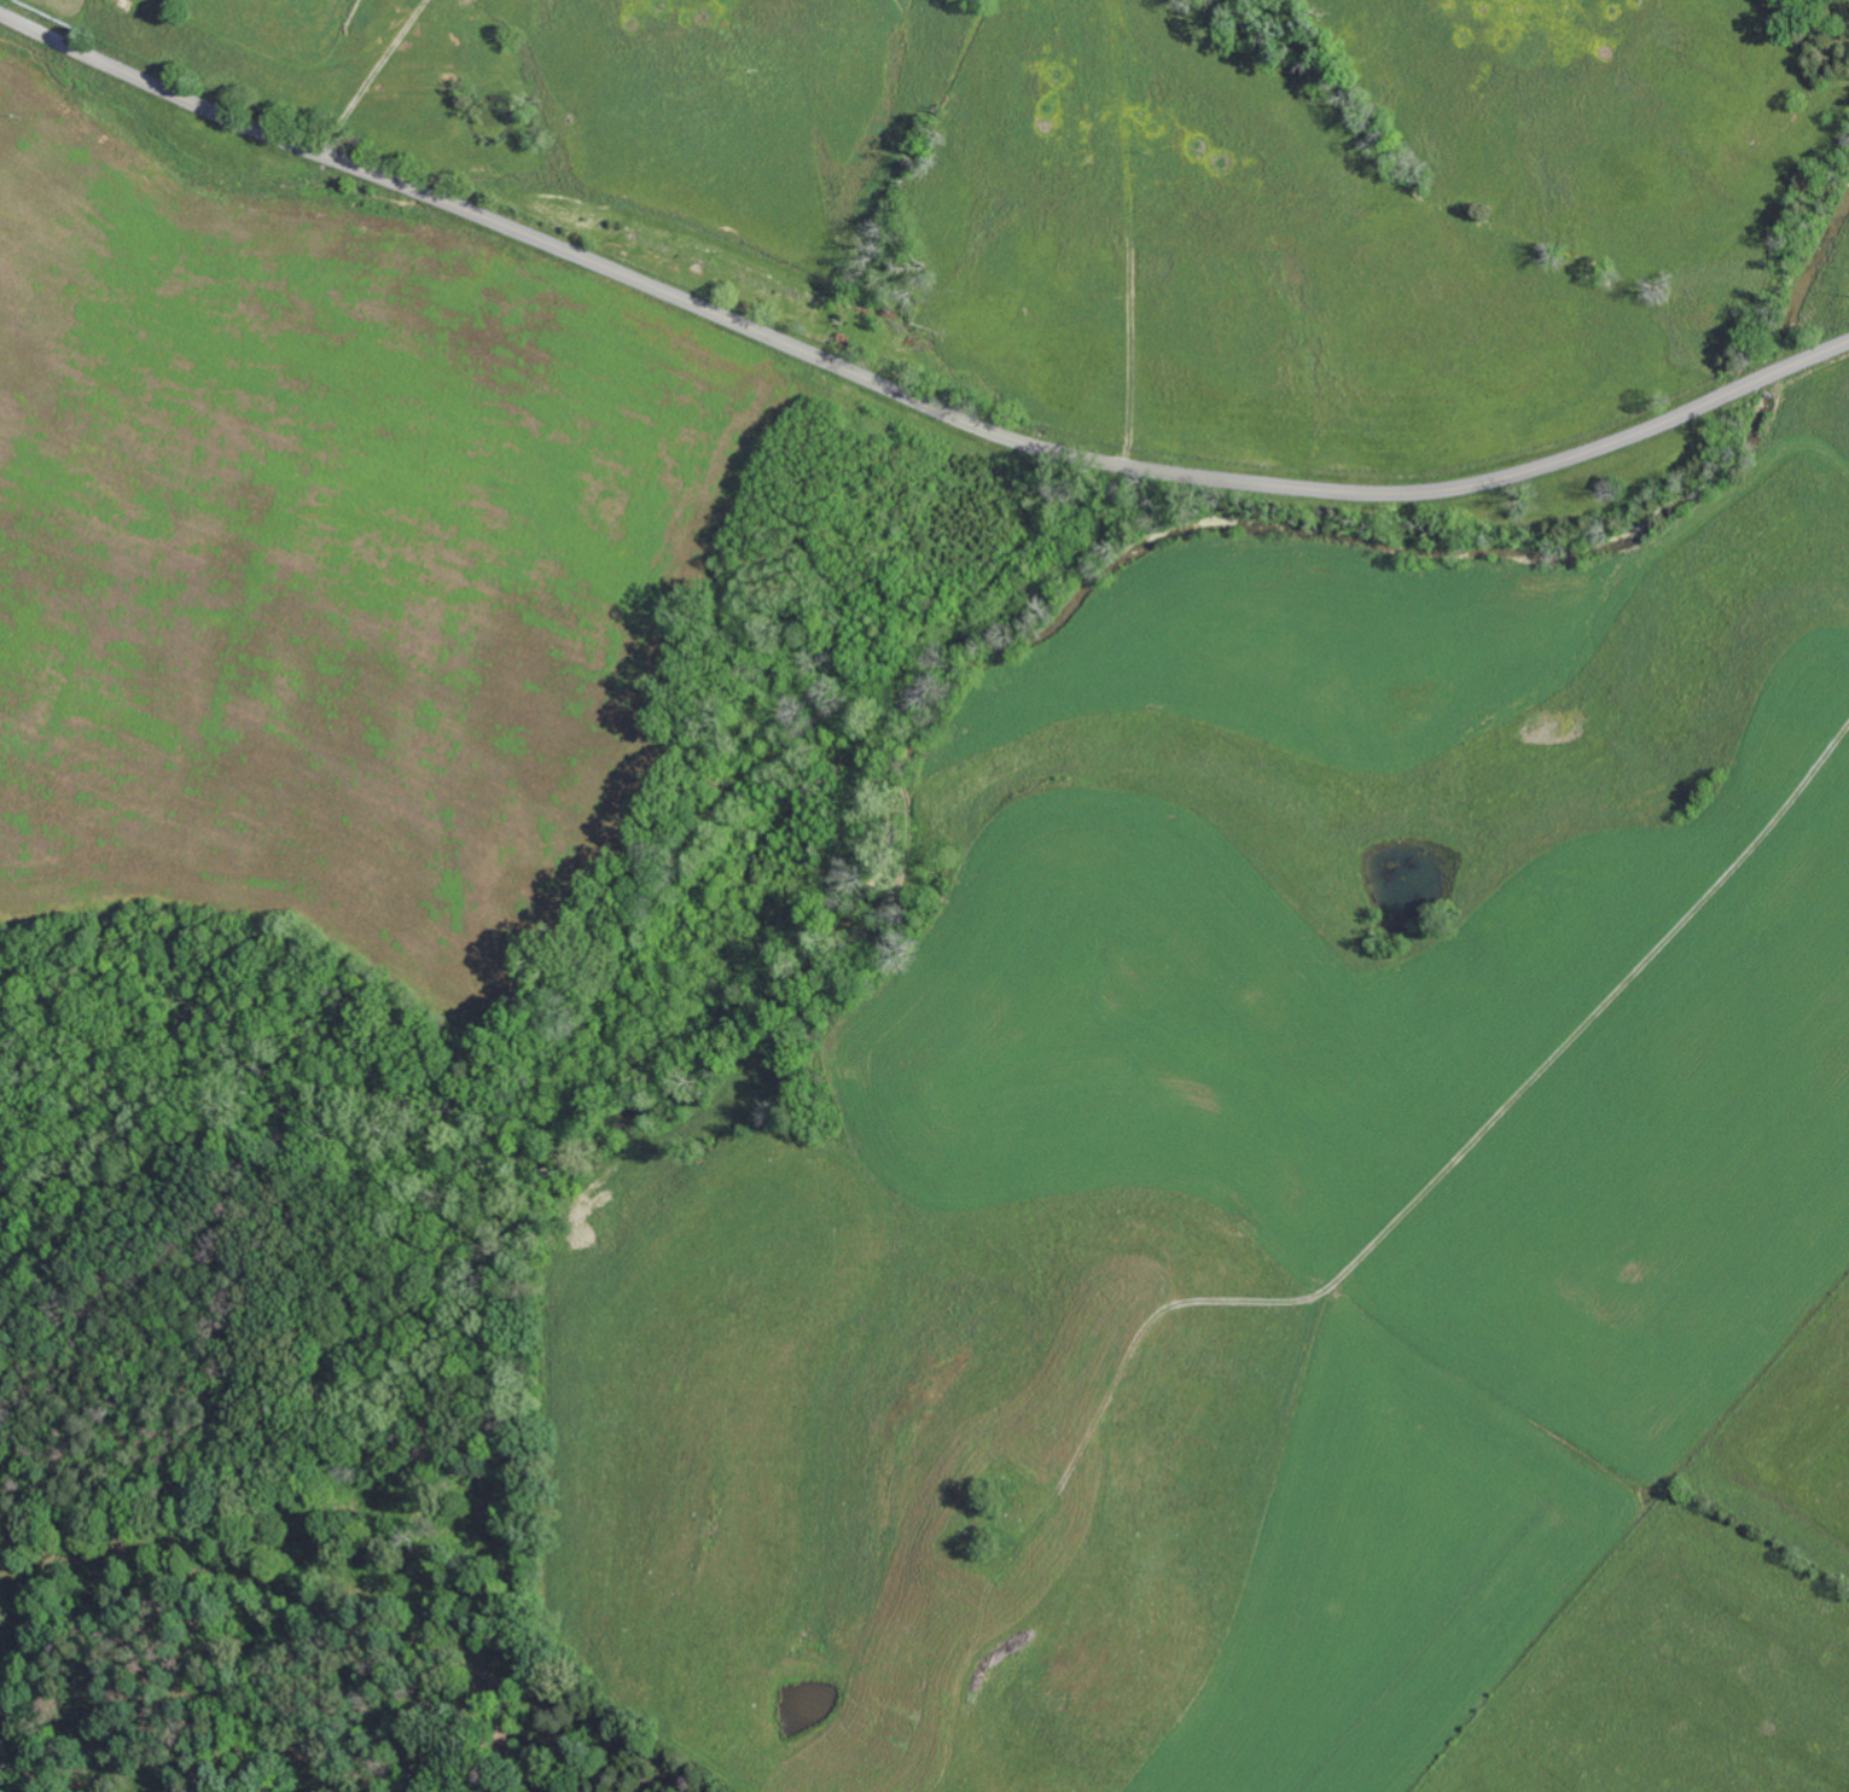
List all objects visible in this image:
road: (361, 75)
road: (905, 395)
park: (1000, 1520)

